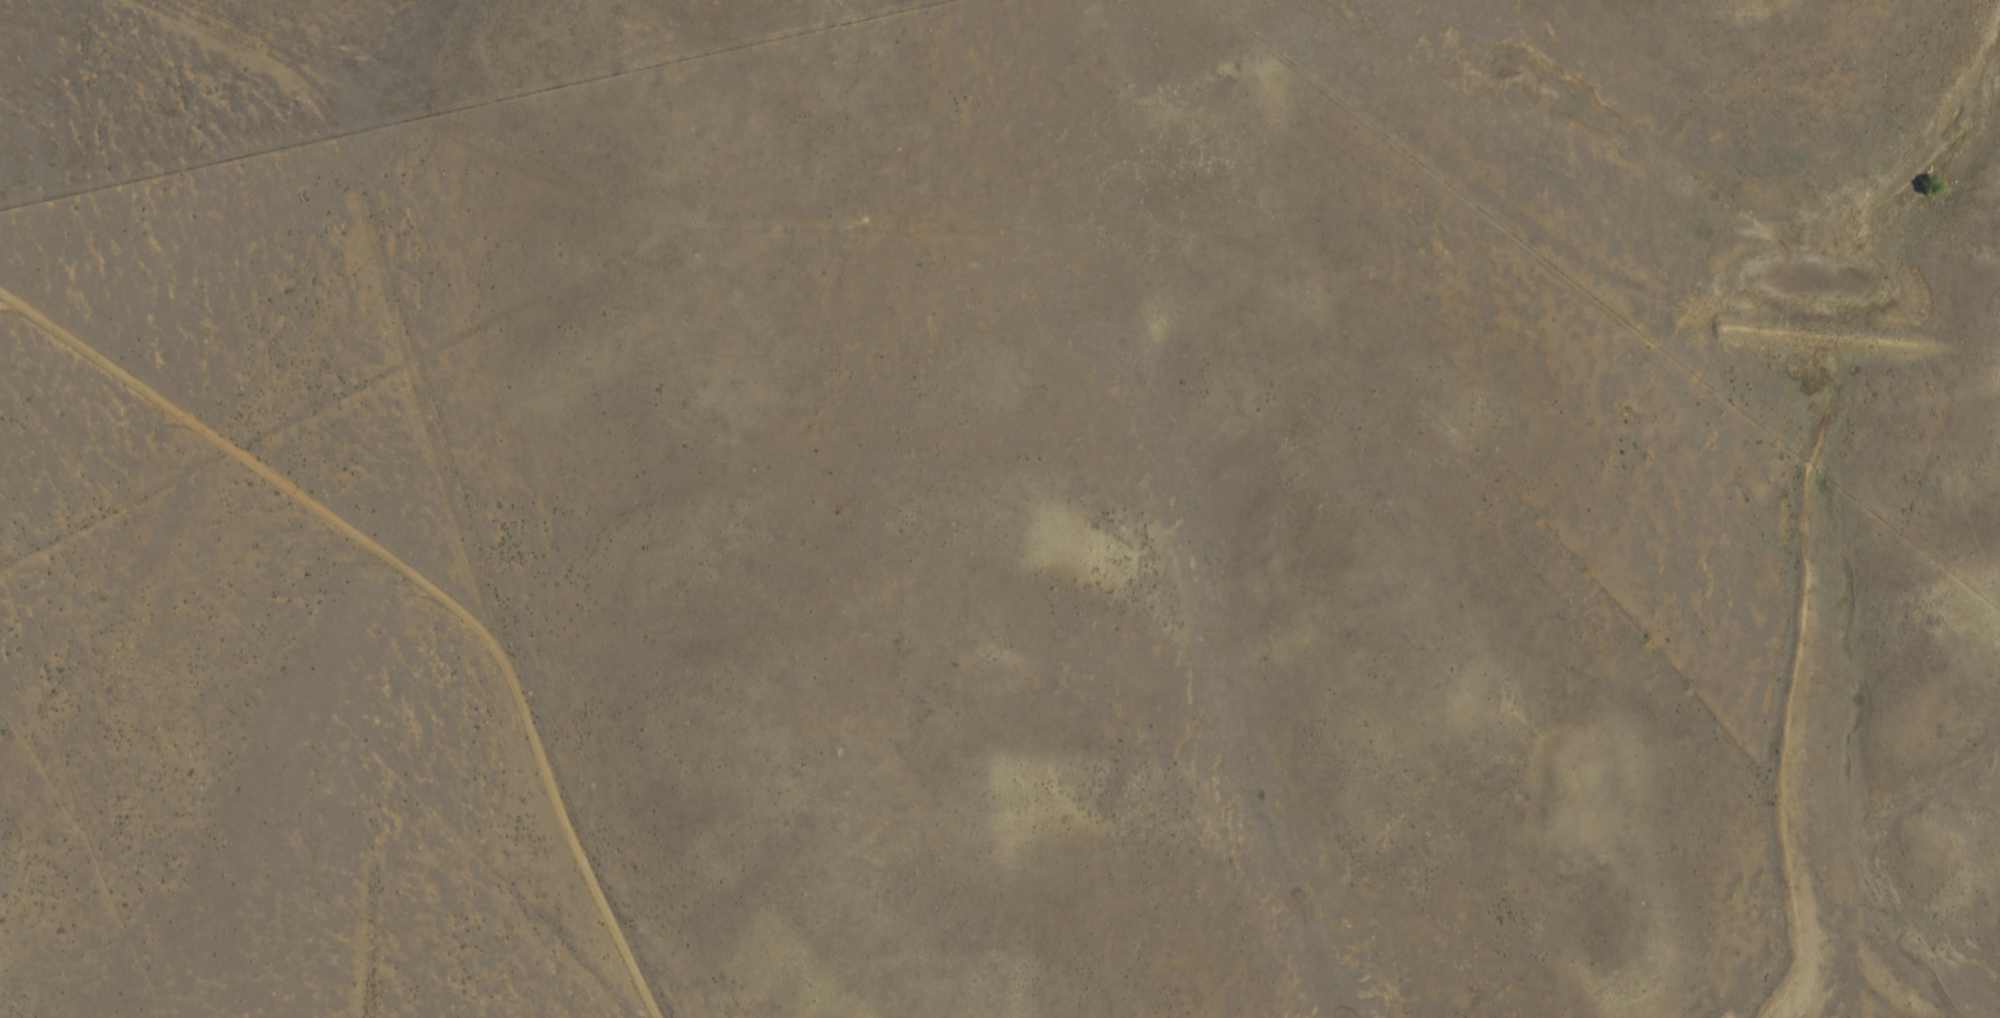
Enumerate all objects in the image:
airport: (318, 69)
road: (462, 100)
road: (381, 276)
road: (414, 584)

